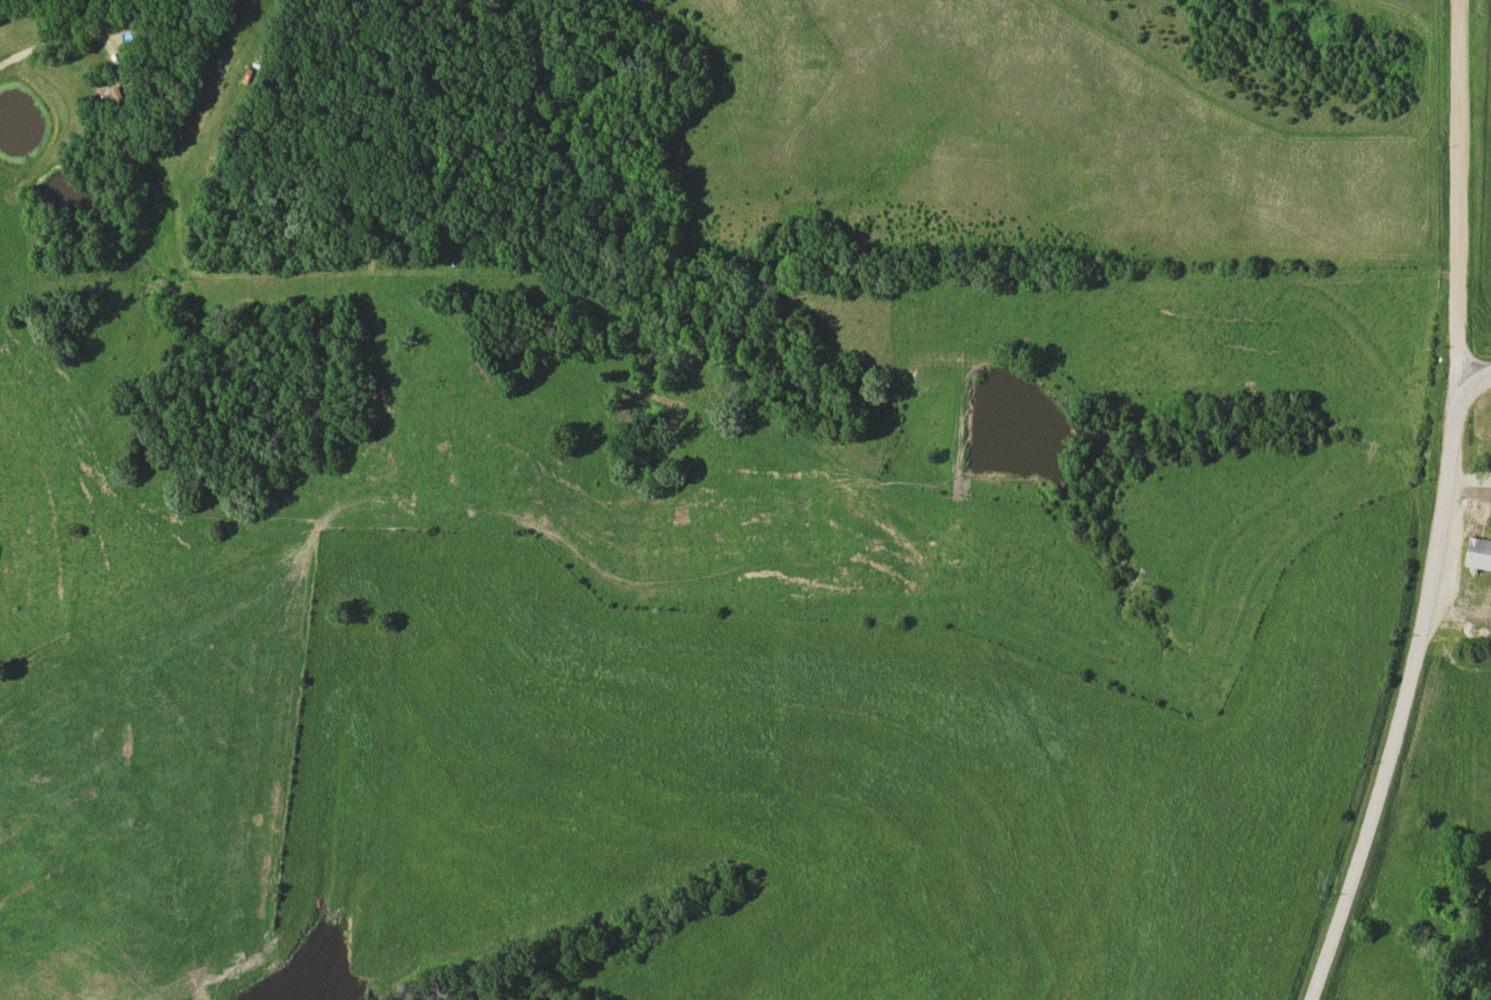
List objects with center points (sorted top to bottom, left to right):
road: (1461, 203)
road: (1469, 385)
building: (1477, 540)
road: (1402, 708)

